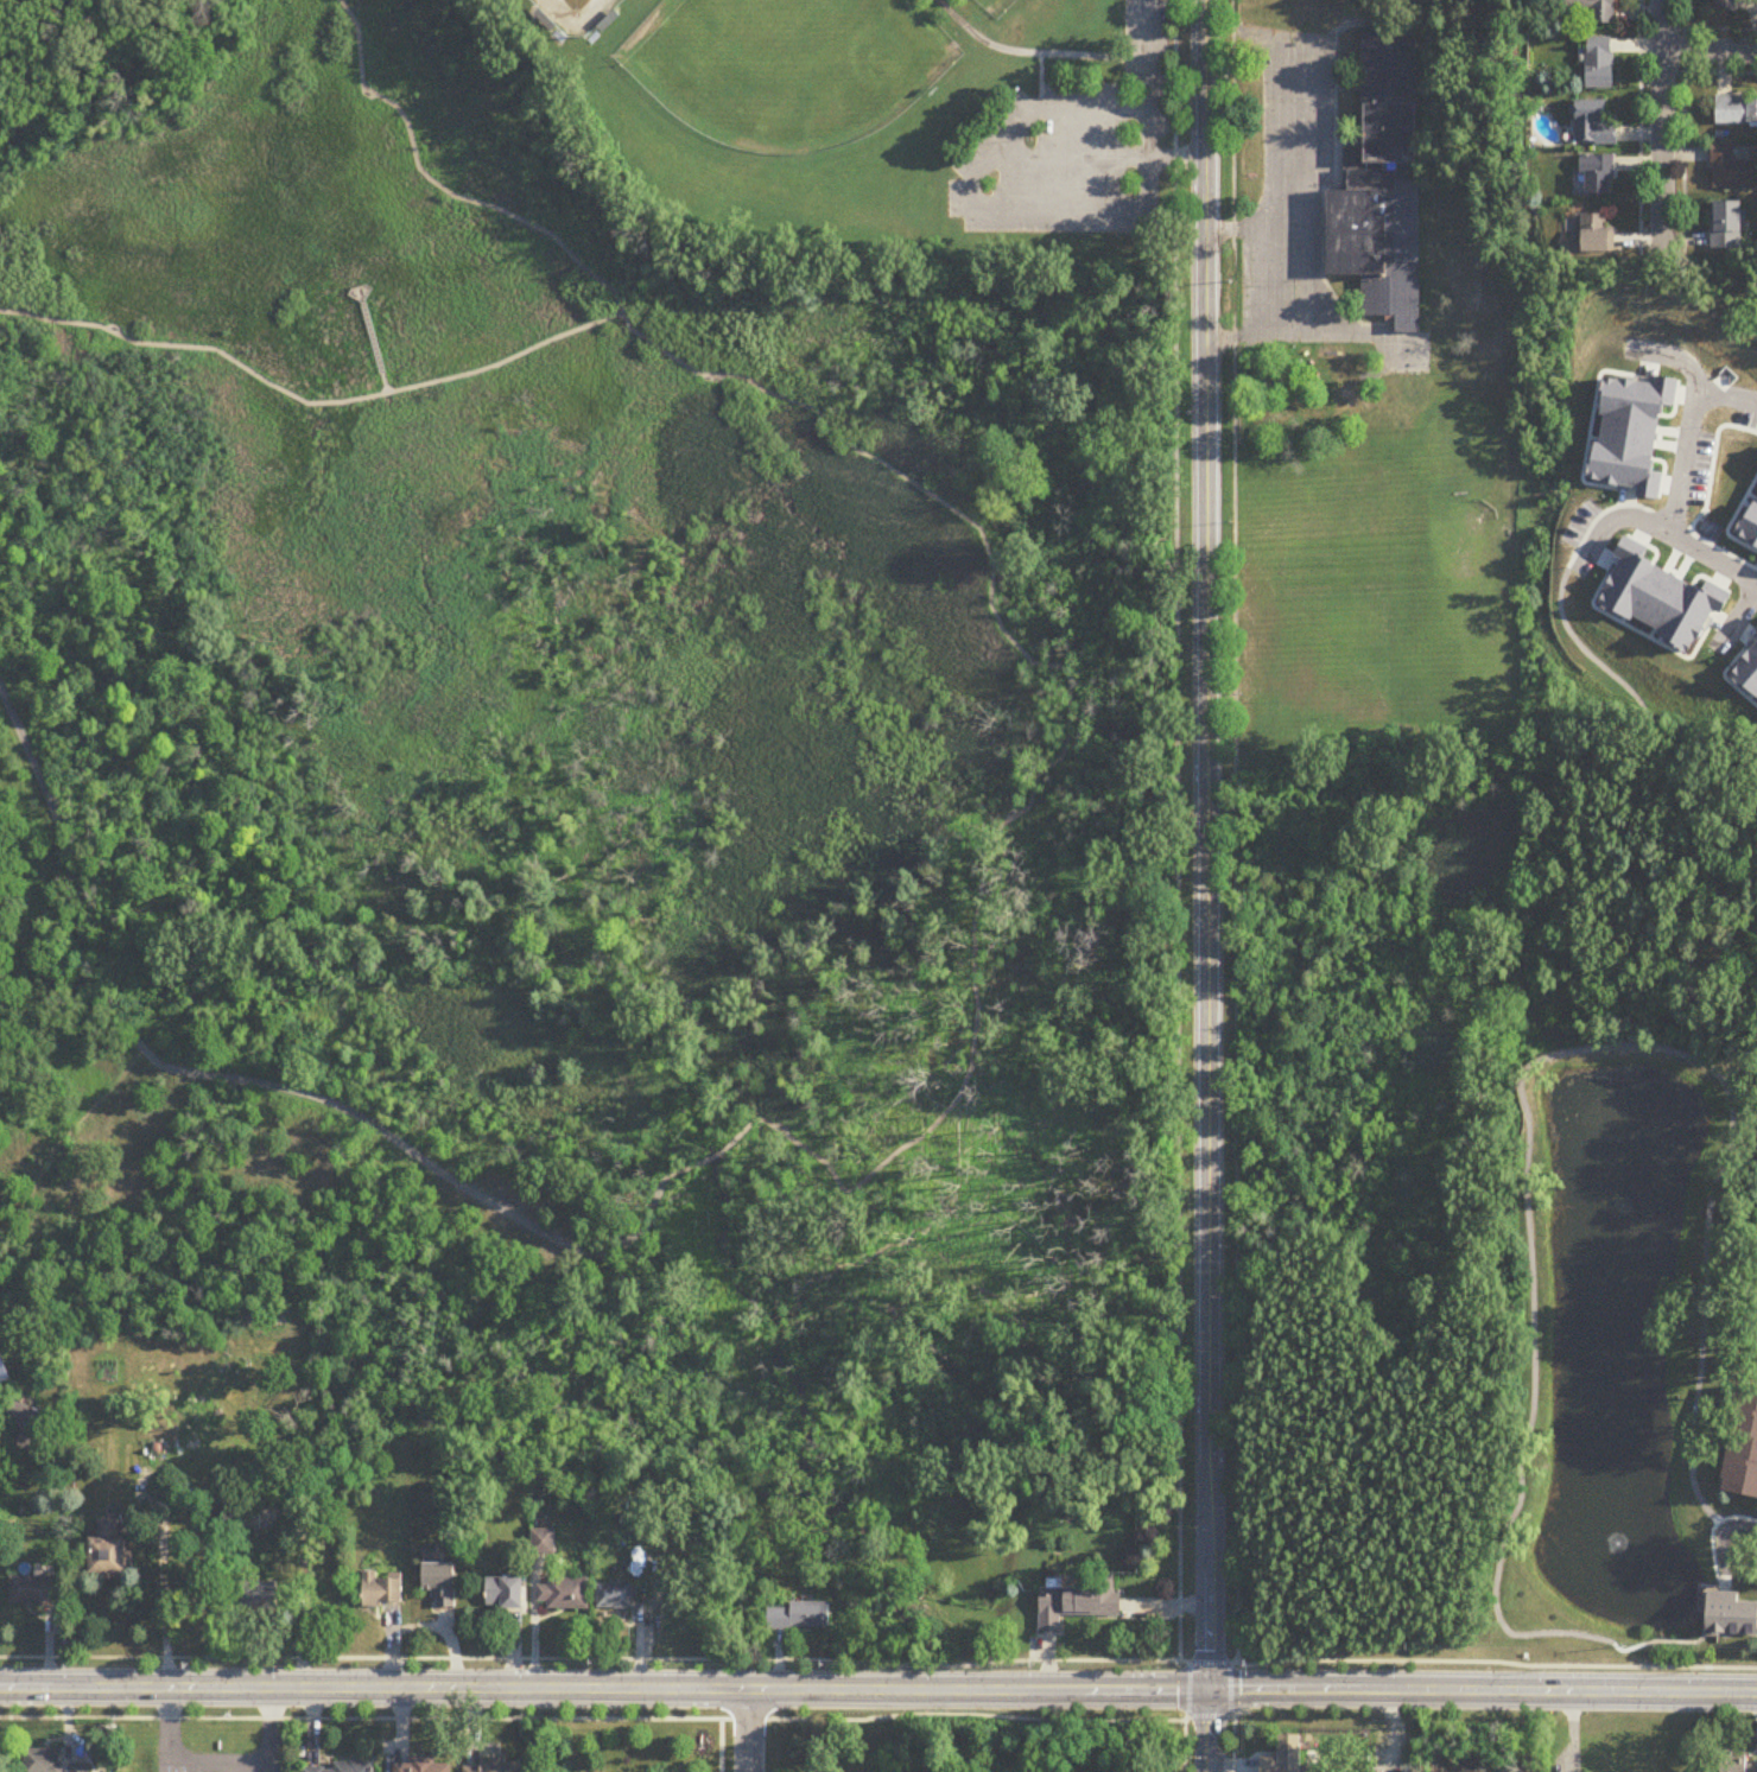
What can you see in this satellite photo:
park: (995, 5)
building: (1731, 5)
building: (1597, 9)
park: (577, 14)
road: (1366, 19)
road: (1708, 46)
road: (1033, 53)
road: (1146, 55)
building: (1600, 64)
park: (787, 68)
road: (1041, 84)
road: (1319, 85)
road: (1352, 85)
road: (1333, 106)
building: (1736, 112)
building: (1596, 125)
road: (1661, 128)
road: (1333, 142)
parking lot: (1077, 150)
road: (1322, 153)
road: (1068, 159)
road: (1176, 159)
building: (1731, 171)
road: (1322, 173)
building: (1599, 174)
road: (971, 183)
building: (1379, 183)
road: (1271, 185)
road: (440, 189)
road: (1304, 205)
building: (1729, 227)
road: (1238, 228)
building: (1598, 234)
road: (1314, 252)
road: (1322, 269)
building: (1389, 317)
road: (1389, 317)
road: (373, 342)
park: (1404, 347)
road: (307, 404)
road: (1677, 485)
road: (1618, 515)
park: (608, 724)
road: (1041, 771)
road: (1176, 828)
road: (1233, 830)
road: (1206, 885)
road: (39, 917)
road: (248, 1081)
road: (66, 1130)
building: (4, 1371)
building: (27, 1419)
building: (1743, 1443)
building: (28, 1450)
building: (545, 1543)
building: (112, 1552)
building: (442, 1586)
building: (382, 1589)
building: (36, 1593)
road: (163, 1594)
building: (506, 1595)
building: (565, 1595)
building: (616, 1598)
building: (254, 1601)
building: (1079, 1603)
building: (1723, 1612)
building: (799, 1617)
road: (638, 1644)
road: (880, 1663)
road: (878, 1688)
traffic signals: (1209, 1689)
road: (1209, 1715)
road: (1185, 1716)
road: (1231, 1716)
road: (591, 1717)
road: (271, 1728)
road: (748, 1729)
building: (1285, 1755)
road: (182, 1759)
building: (42, 1761)
building: (1738, 1765)
building: (421, 1766)
building: (344, 1767)
building: (491, 1767)
building: (78, 1768)

